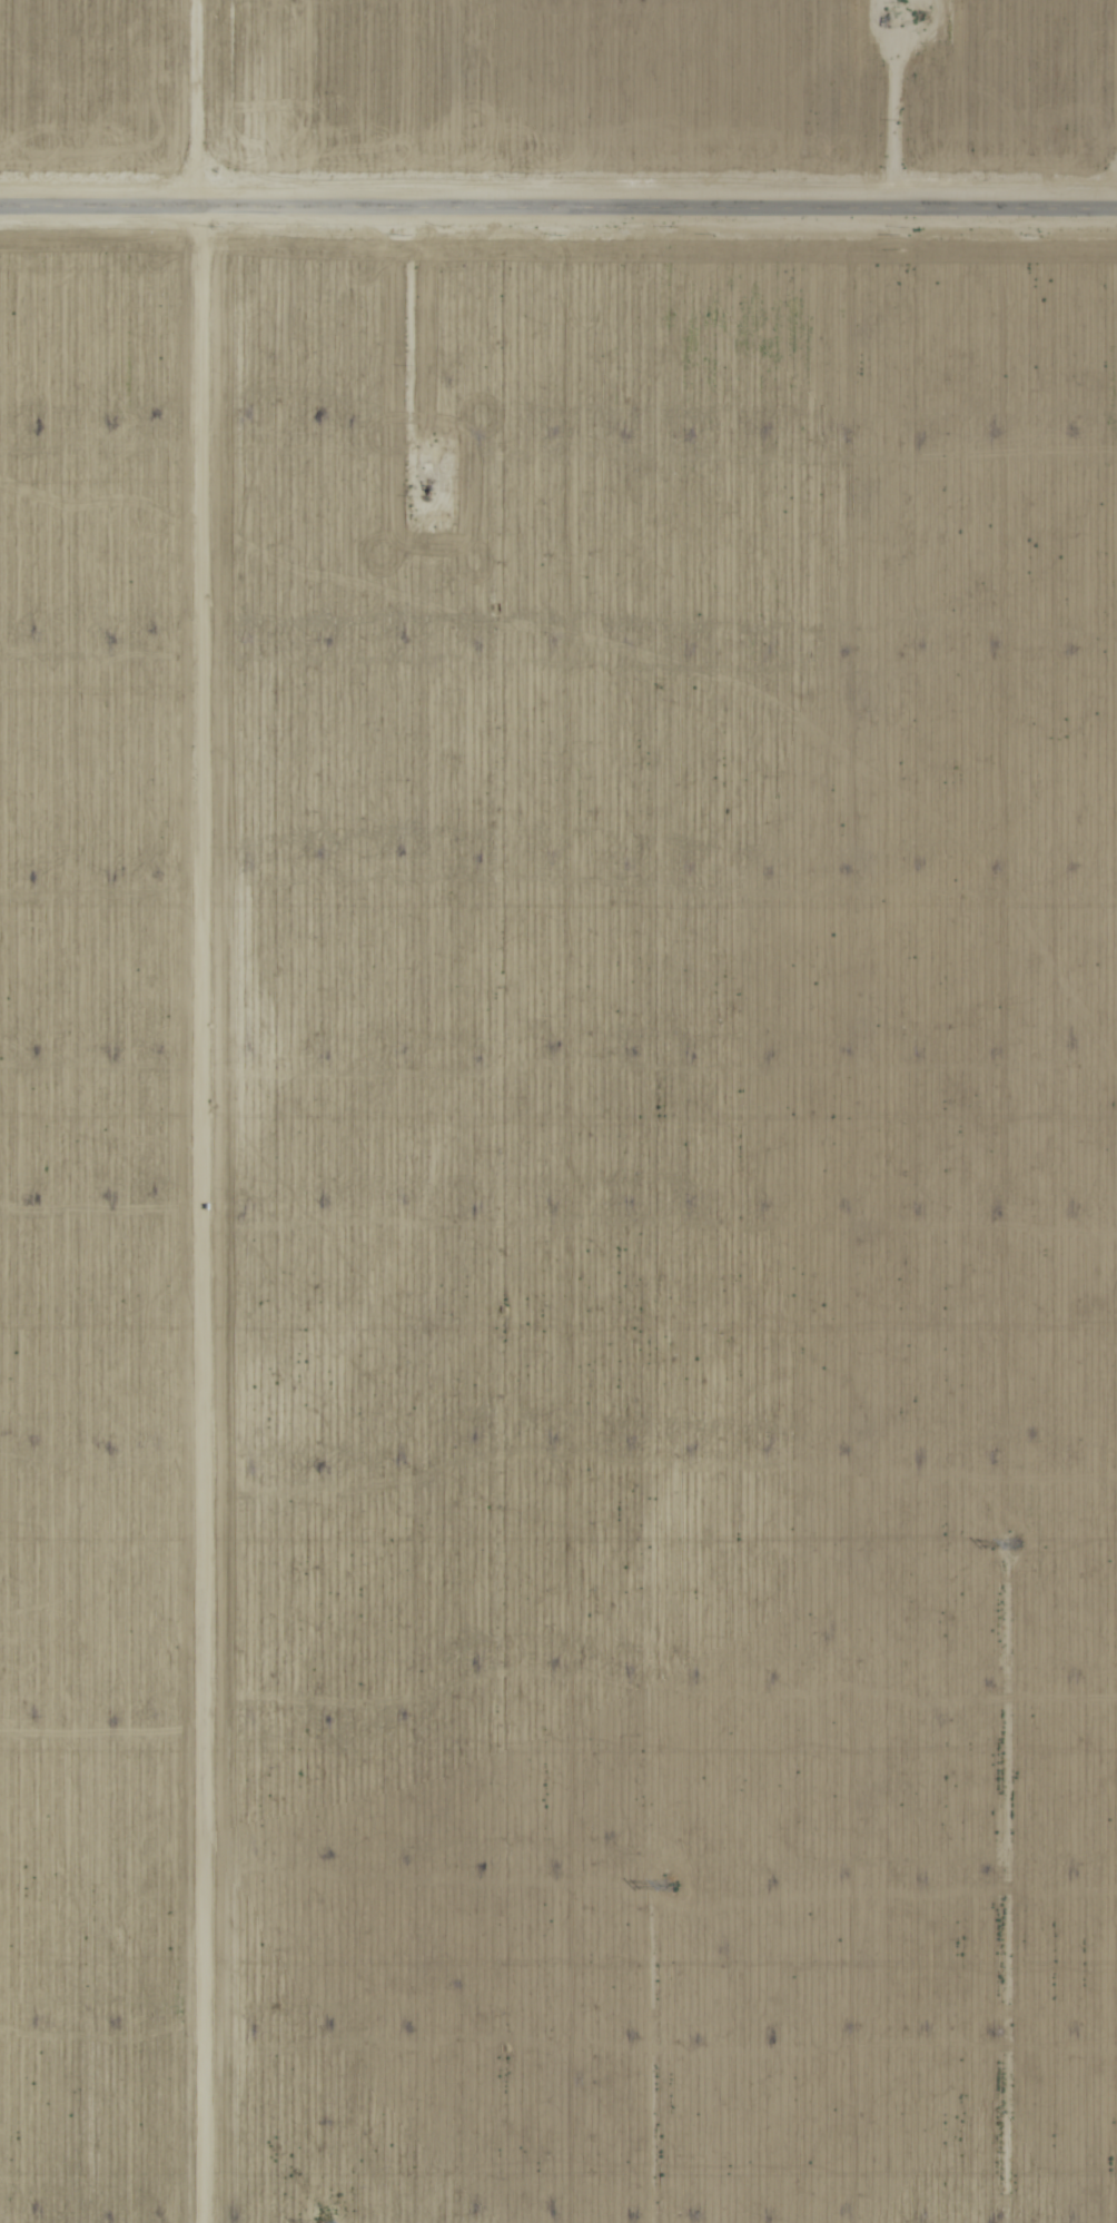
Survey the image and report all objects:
road: (558, 206)
crop: (558, 1111)
power tower: (1017, 1541)
power tower: (669, 1884)
power tower: (320, 2221)

